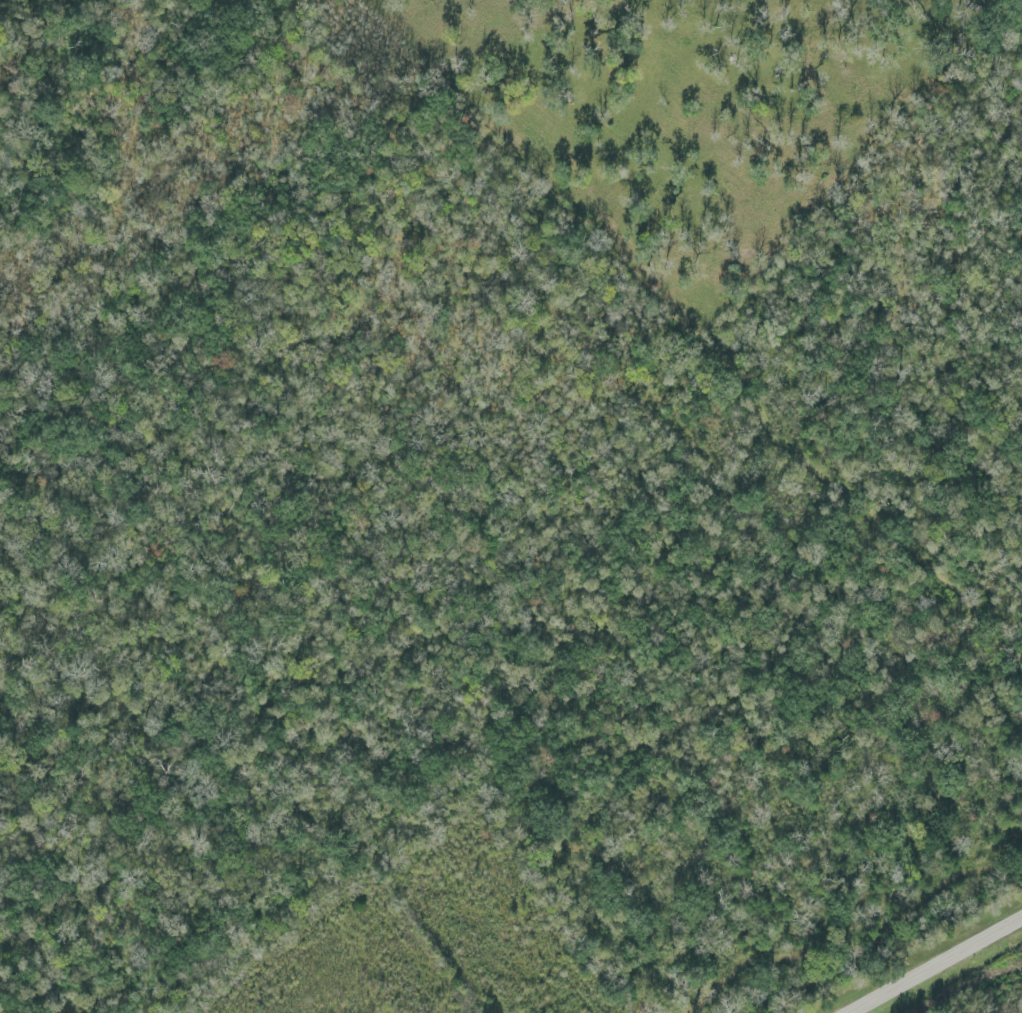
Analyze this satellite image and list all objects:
road: (936, 965)

